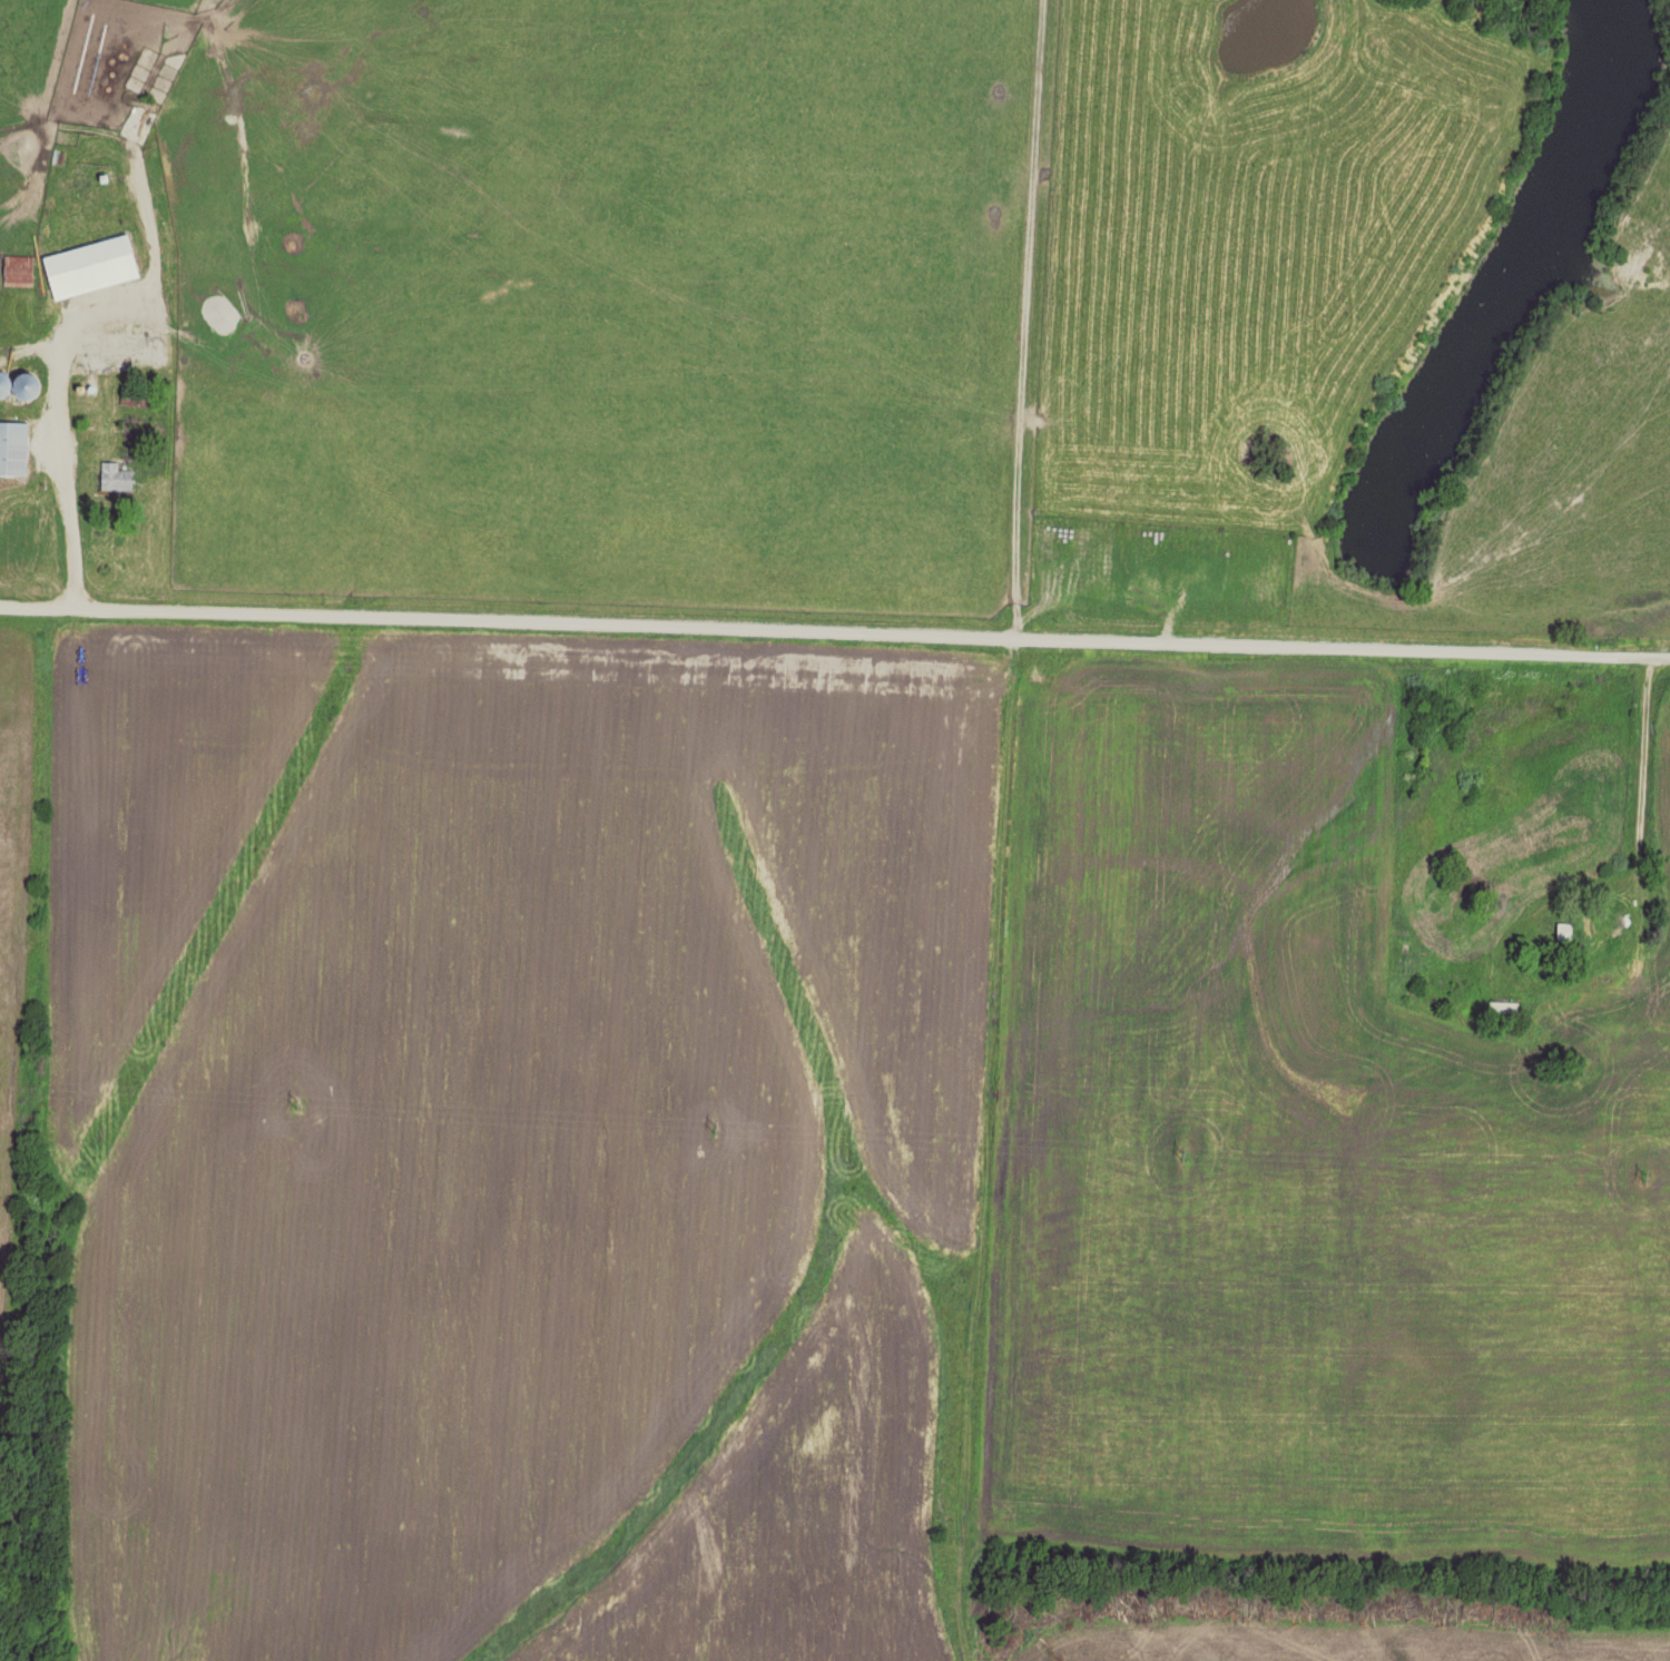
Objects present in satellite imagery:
building: (92, 268)
building: (8, 387)
building: (129, 397)
building: (14, 449)
road: (61, 463)
building: (117, 479)
road: (834, 635)
building: (1564, 932)
road: (979, 1150)

